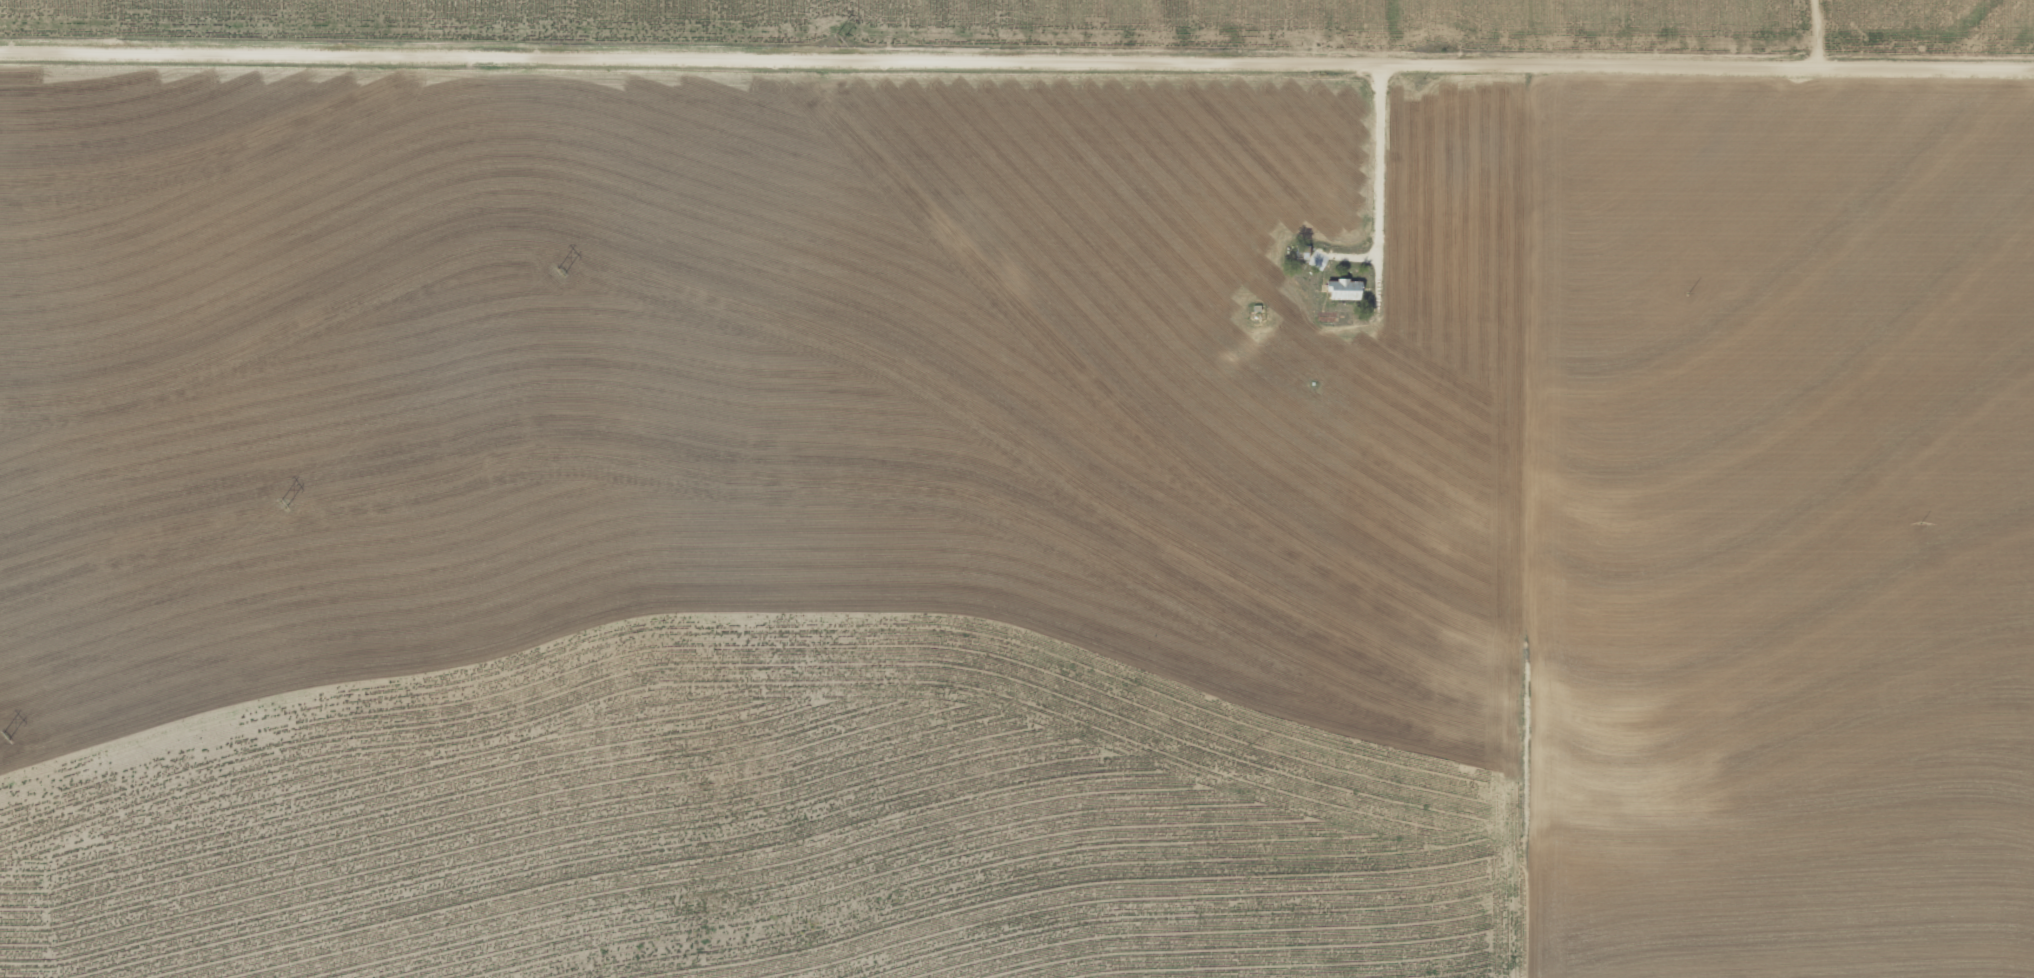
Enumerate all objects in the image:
power tower: (834, 29)
road: (1833, 35)
road: (1017, 64)
power tower: (544, 270)
building: (1337, 290)
power tower: (262, 503)
power tower: (13, 739)

